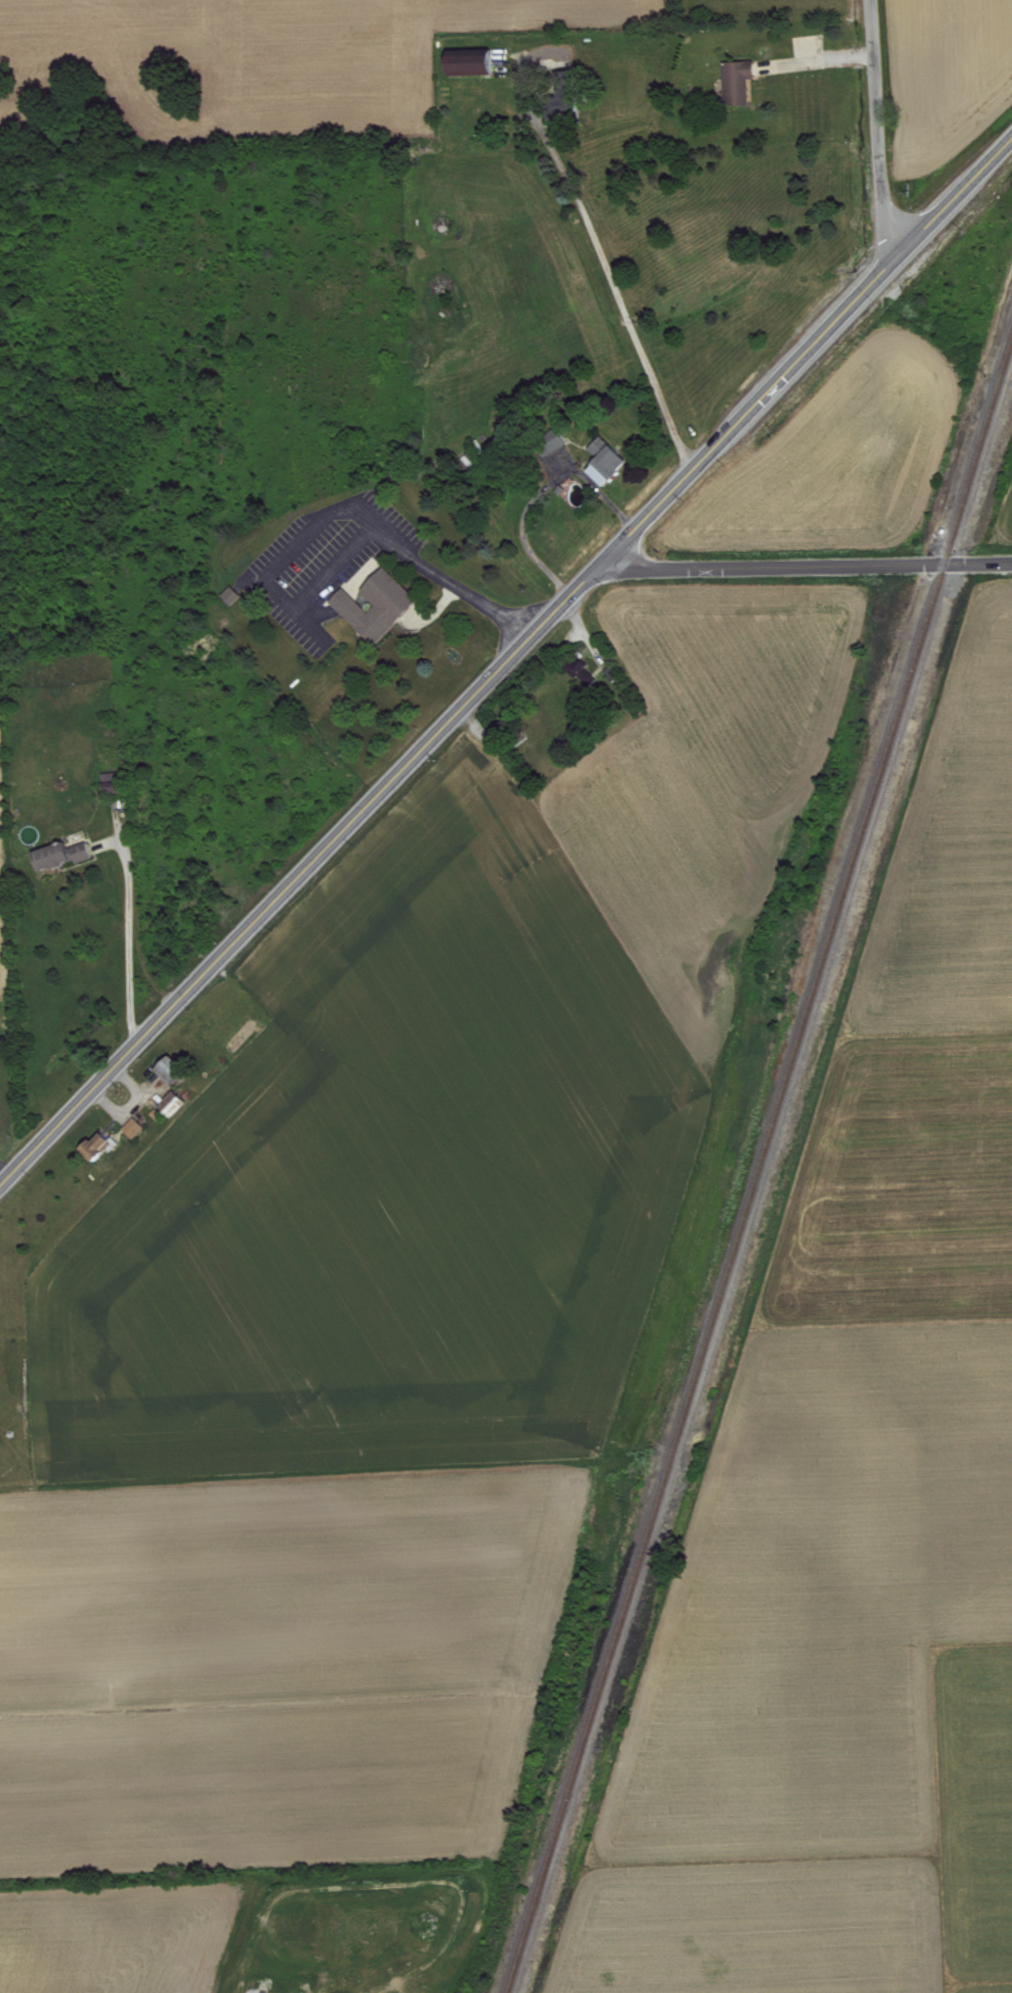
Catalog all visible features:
road: (824, 64)
building: (478, 65)
building: (745, 84)
building: (571, 107)
road: (880, 135)
road: (613, 269)
building: (613, 464)
road: (547, 495)
road: (807, 566)
road: (254, 582)
road: (270, 587)
road: (460, 588)
road: (361, 592)
building: (238, 598)
building: (385, 608)
road: (441, 616)
road: (317, 631)
road: (508, 666)
building: (589, 675)
building: (121, 785)
building: (68, 858)
road: (126, 943)
building: (177, 1072)
building: (179, 1107)
building: (140, 1131)
building: (103, 1148)
railway: (759, 1169)

